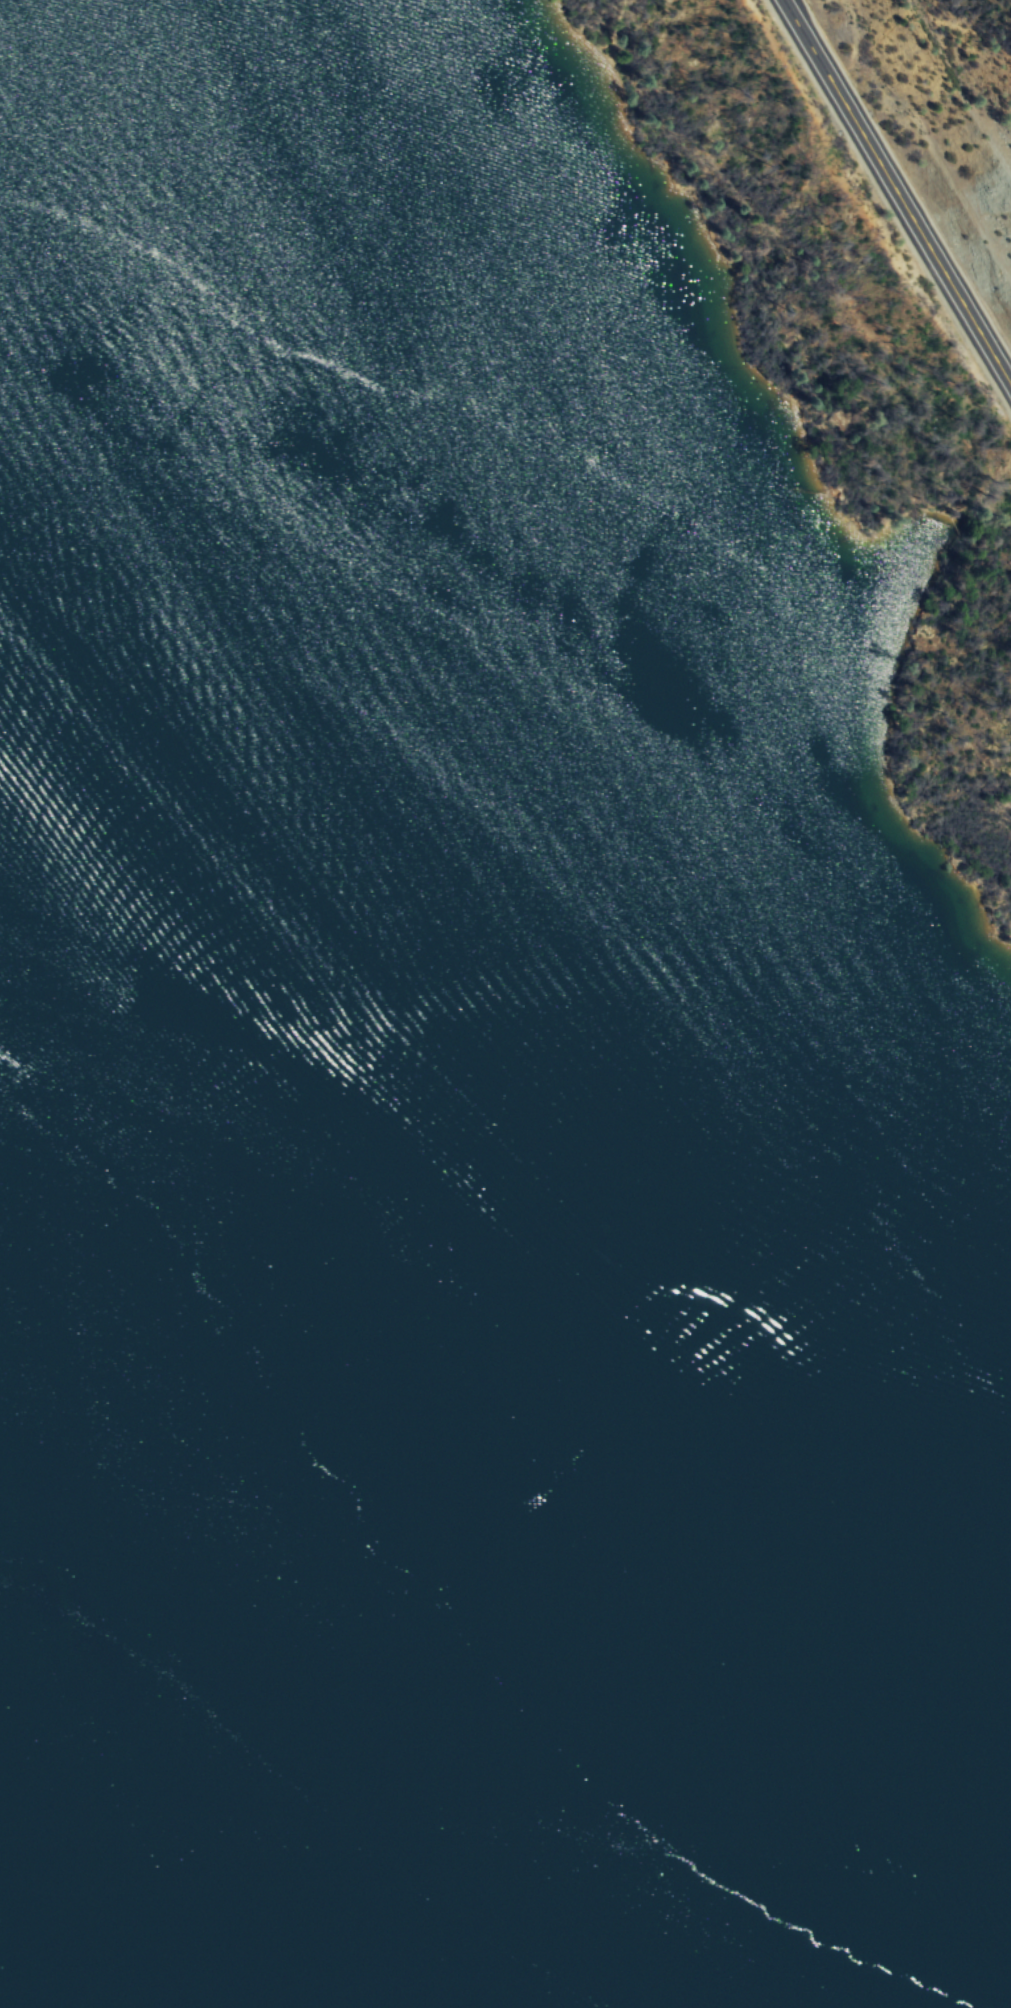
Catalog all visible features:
road: (898, 186)

